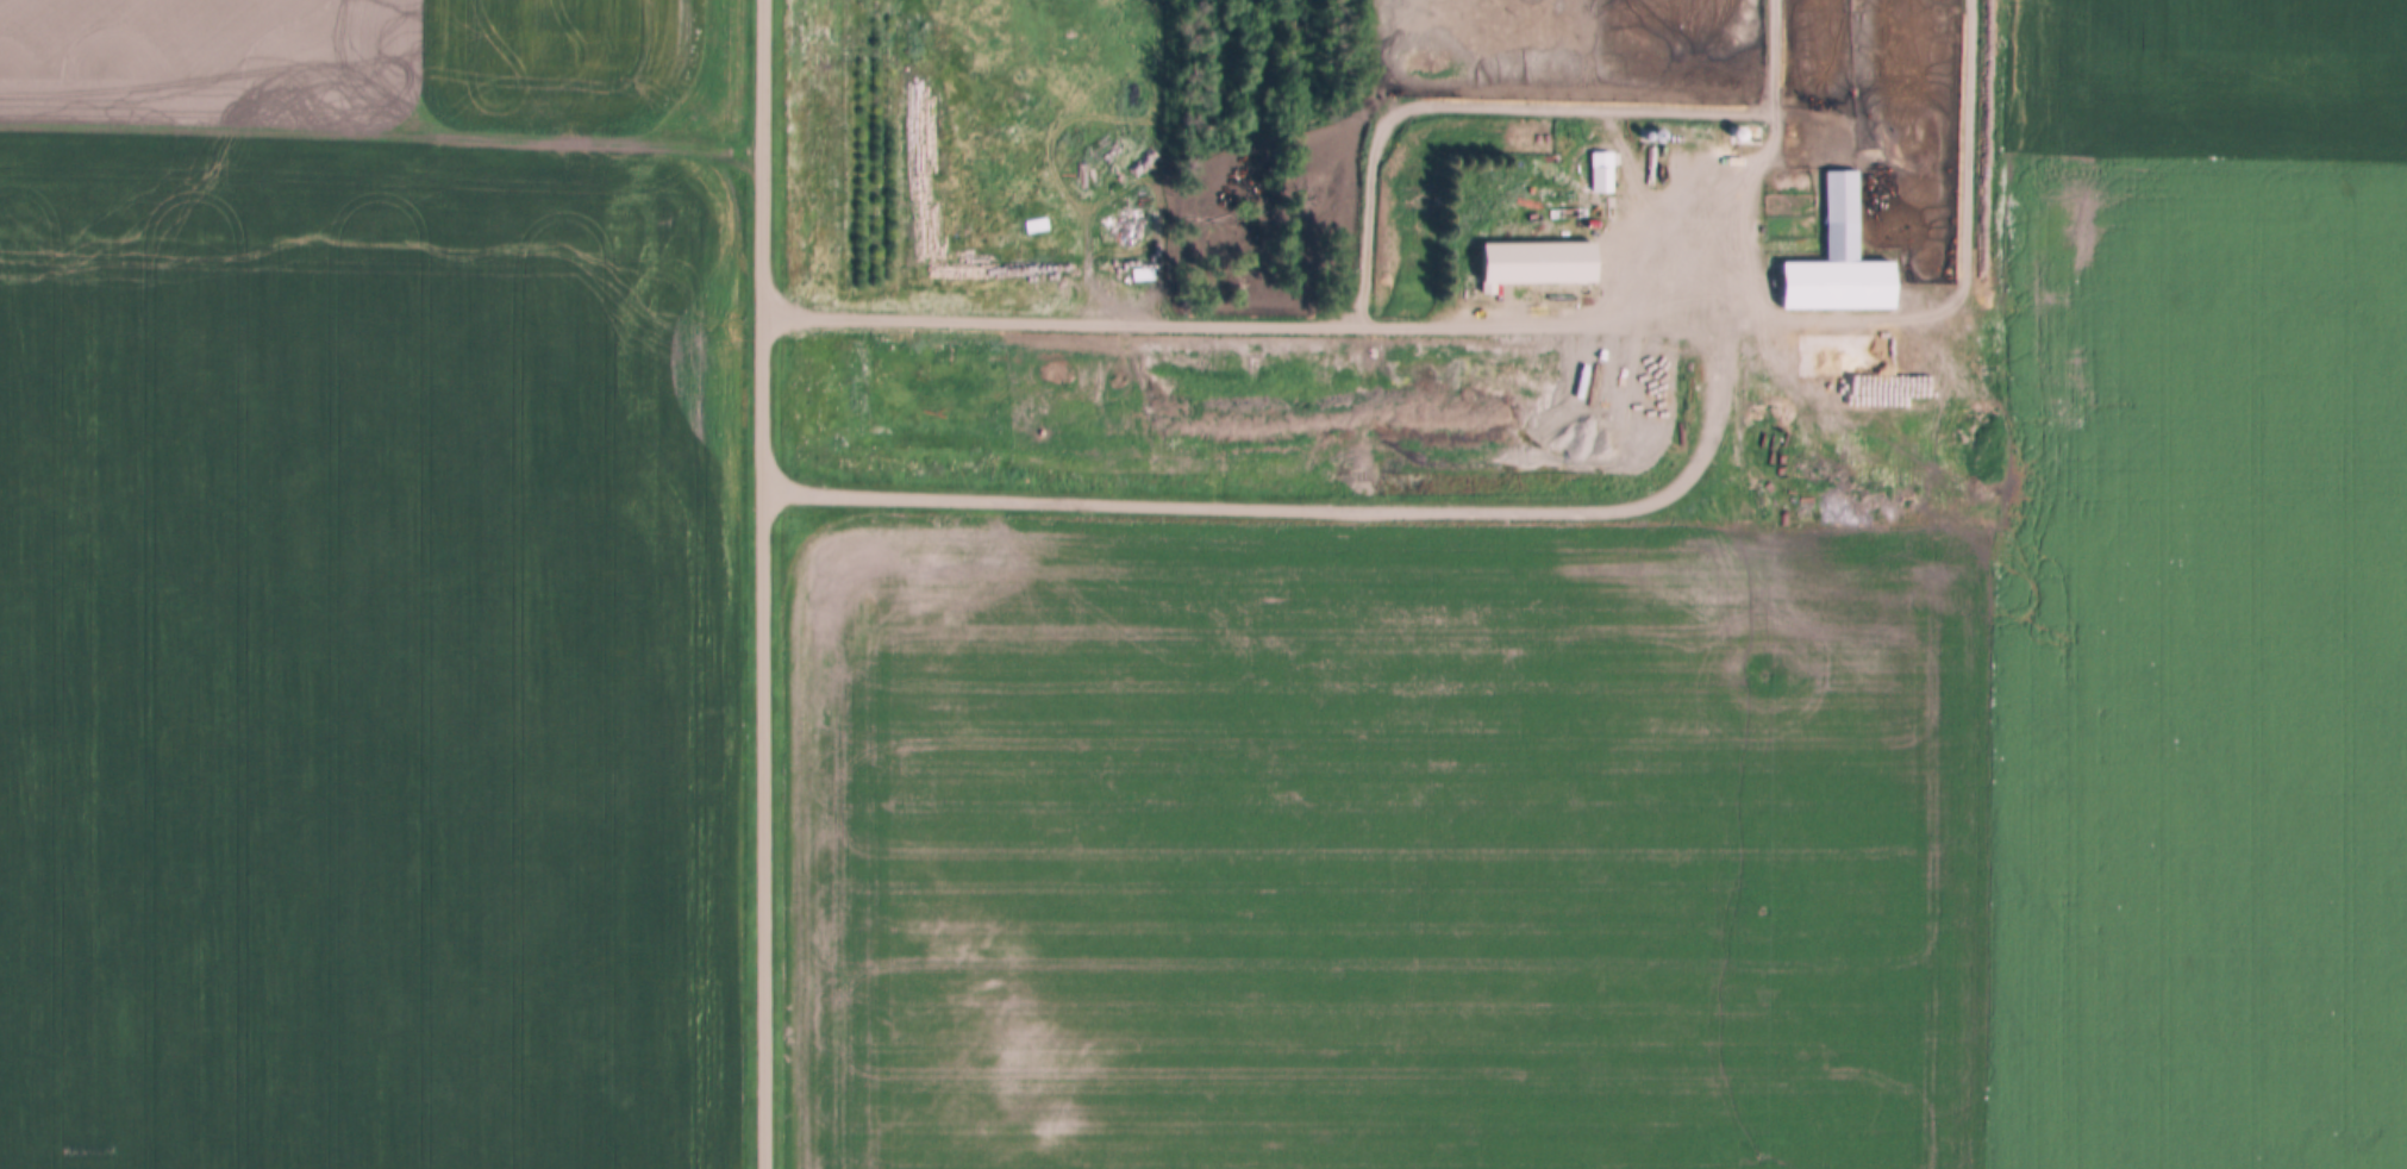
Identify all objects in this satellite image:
road: (382, 120)
building: (1602, 171)
building: (1105, 194)
building: (1842, 261)
road: (1449, 512)
road: (764, 584)

